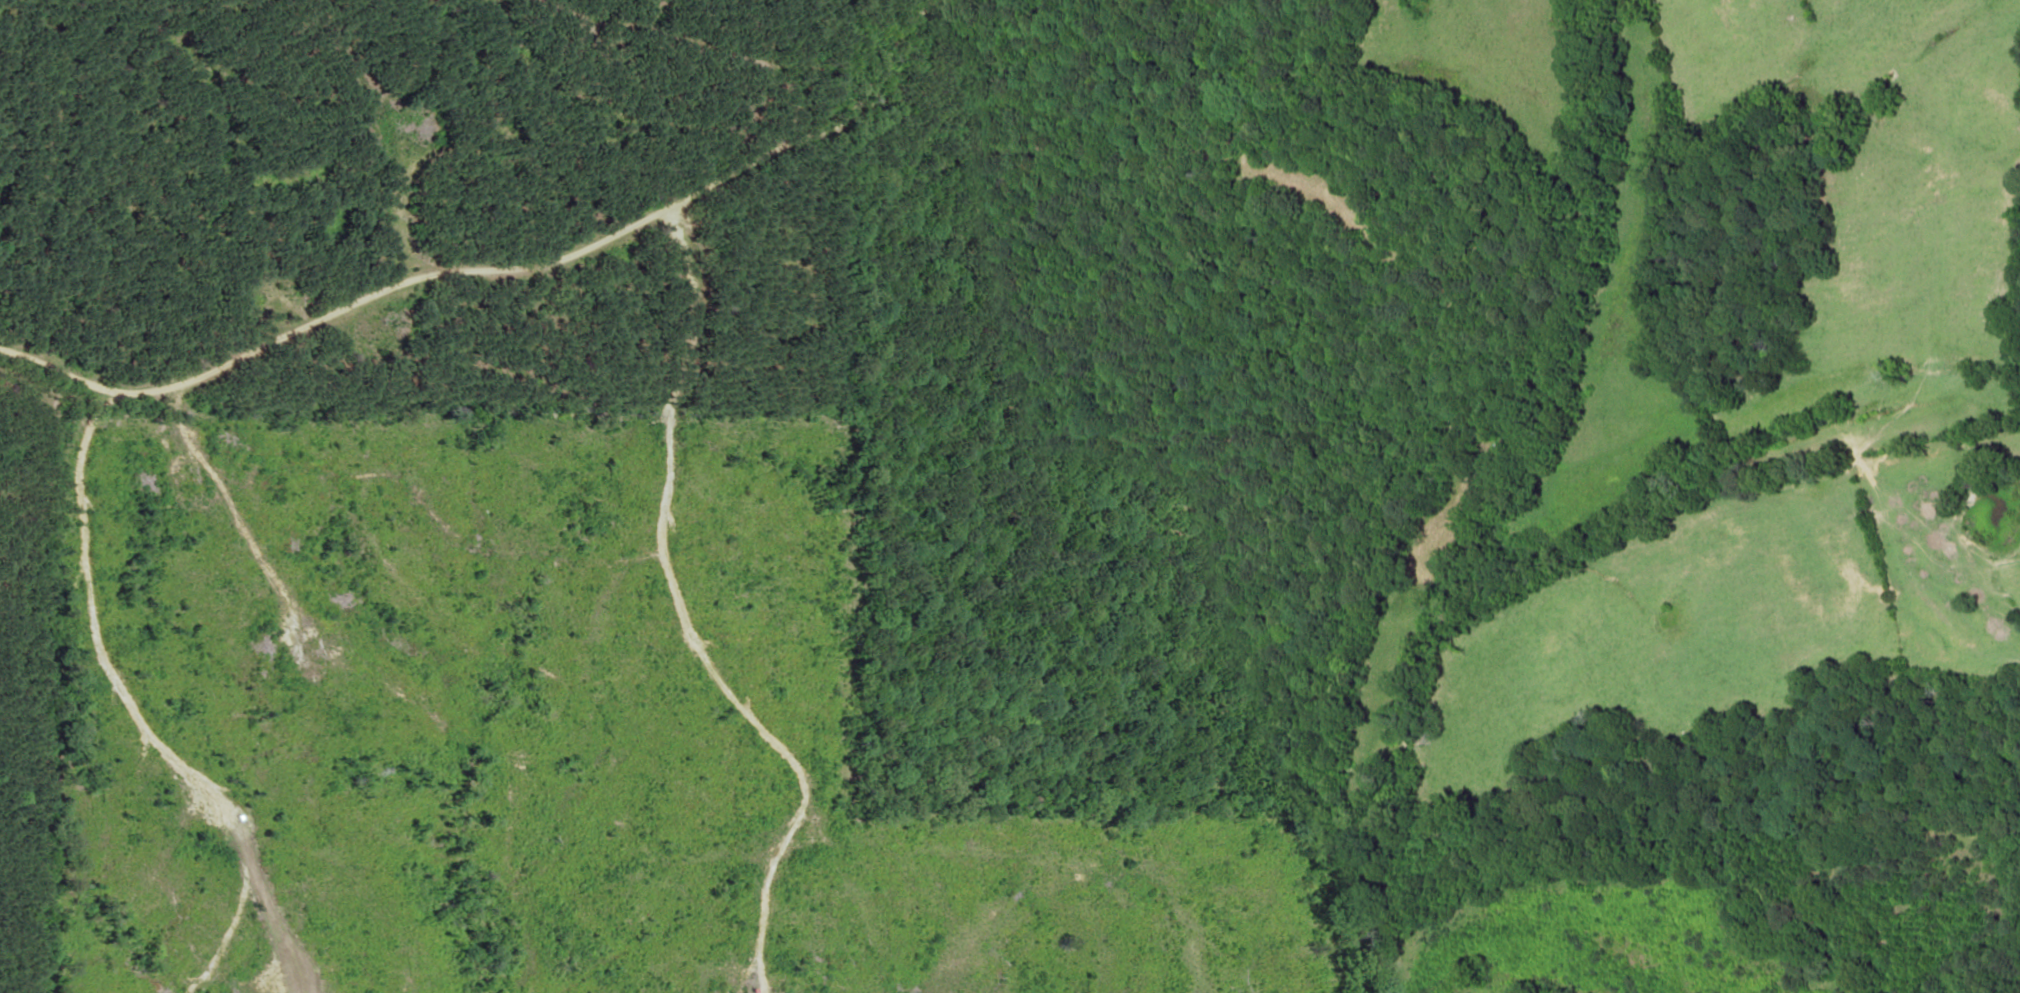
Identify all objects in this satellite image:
road: (614, 96)
road: (498, 260)

